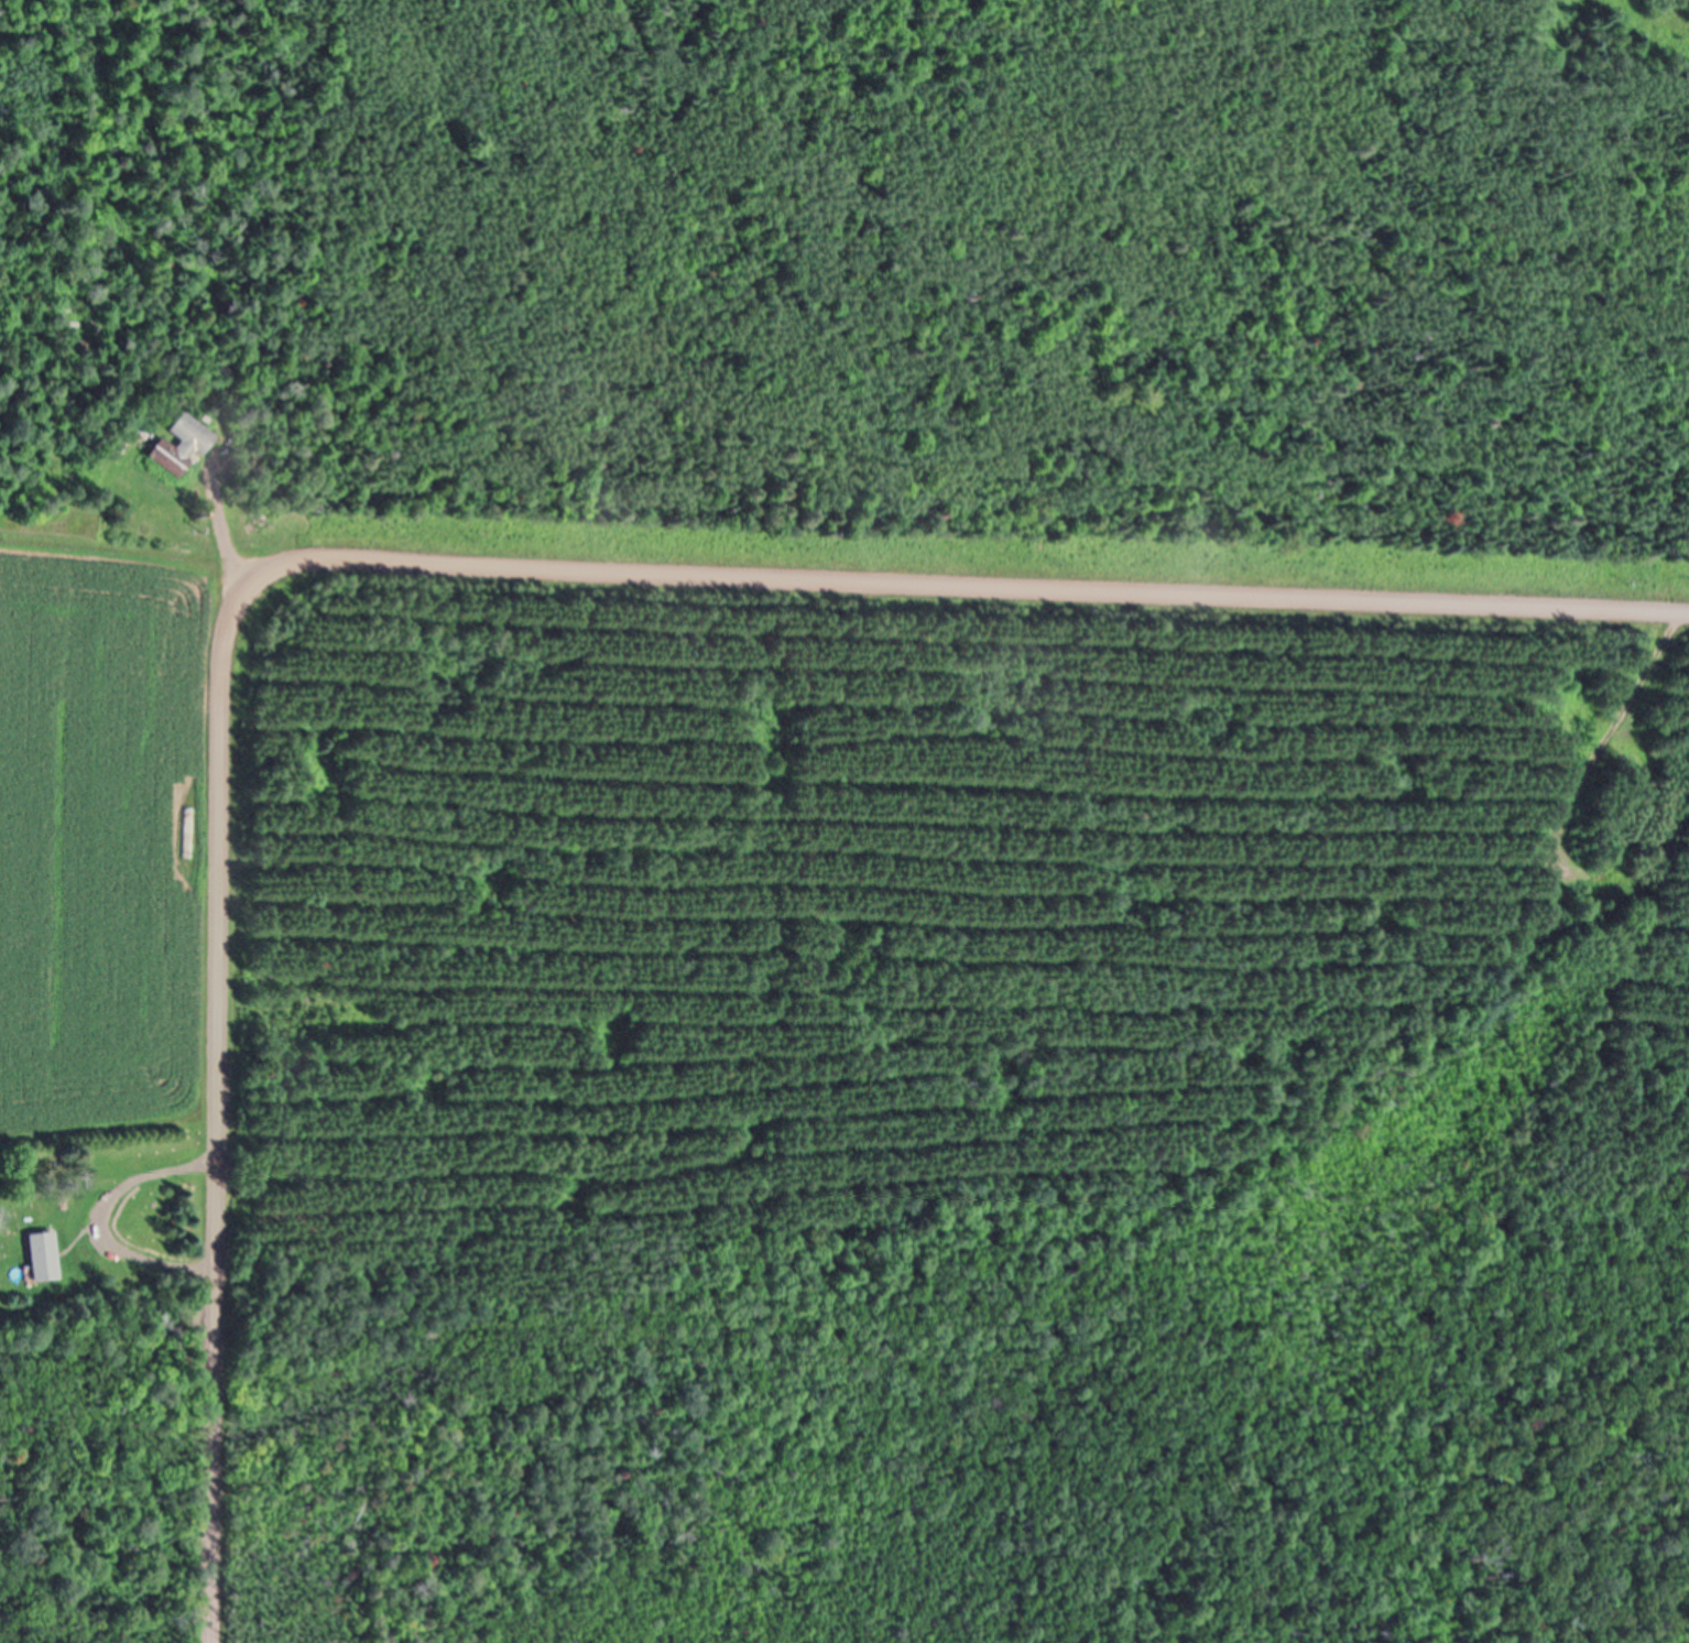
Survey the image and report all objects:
building: (182, 447)
road: (437, 567)
road: (1605, 746)

